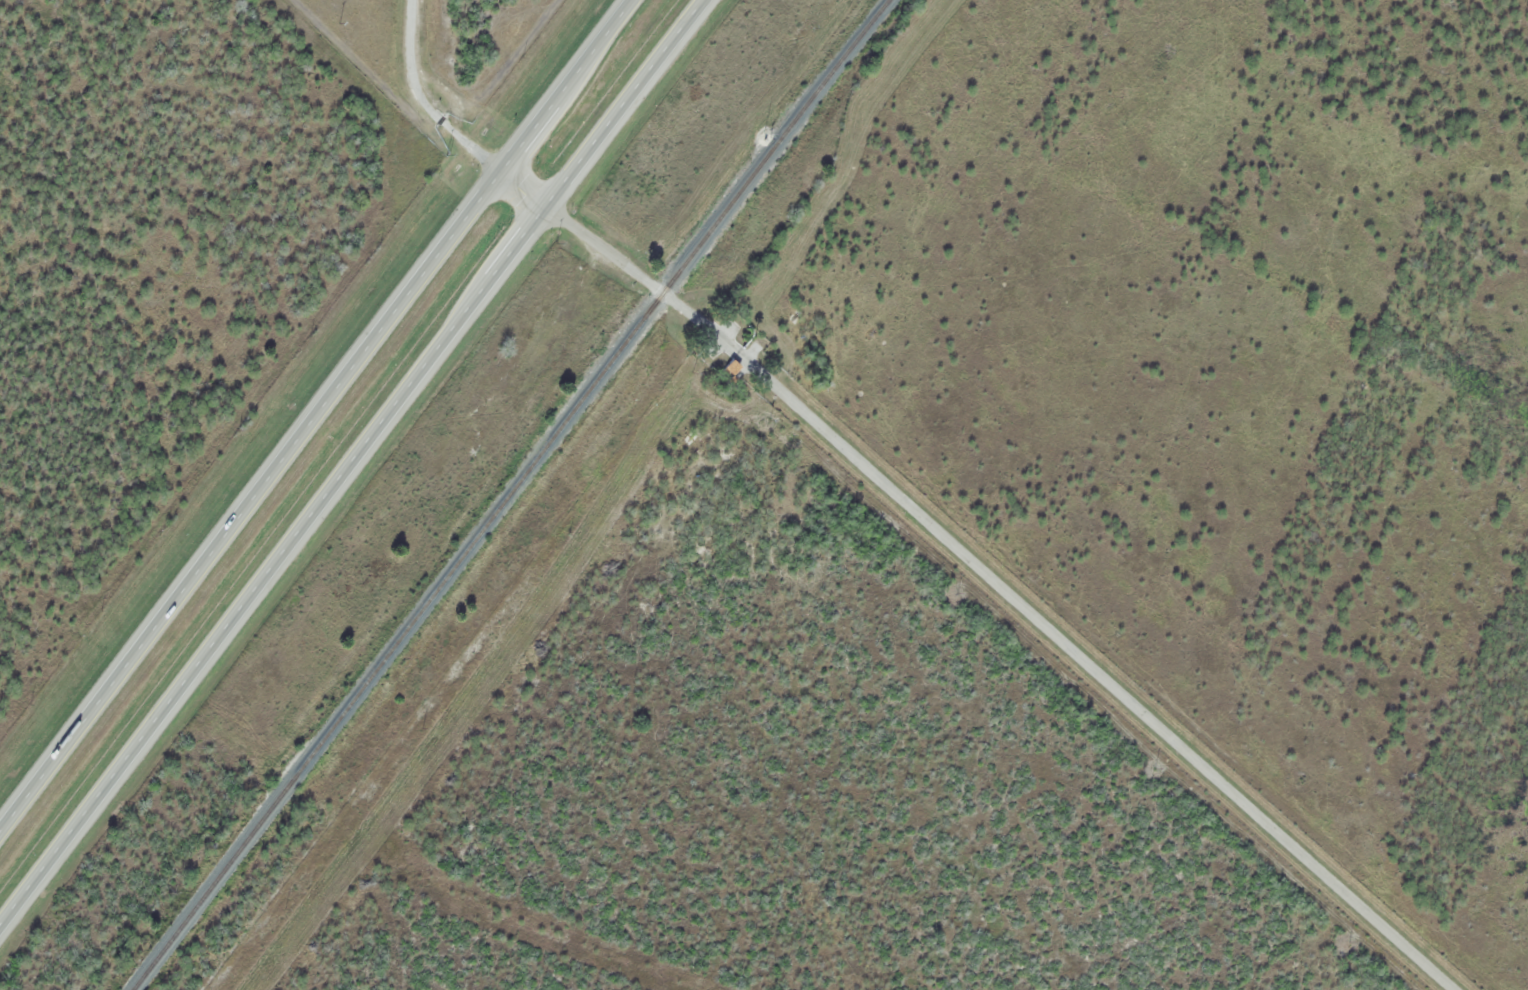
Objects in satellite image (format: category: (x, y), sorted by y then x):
road: (442, 122)
road: (319, 419)
road: (359, 470)
railway: (510, 493)
road: (1001, 589)

